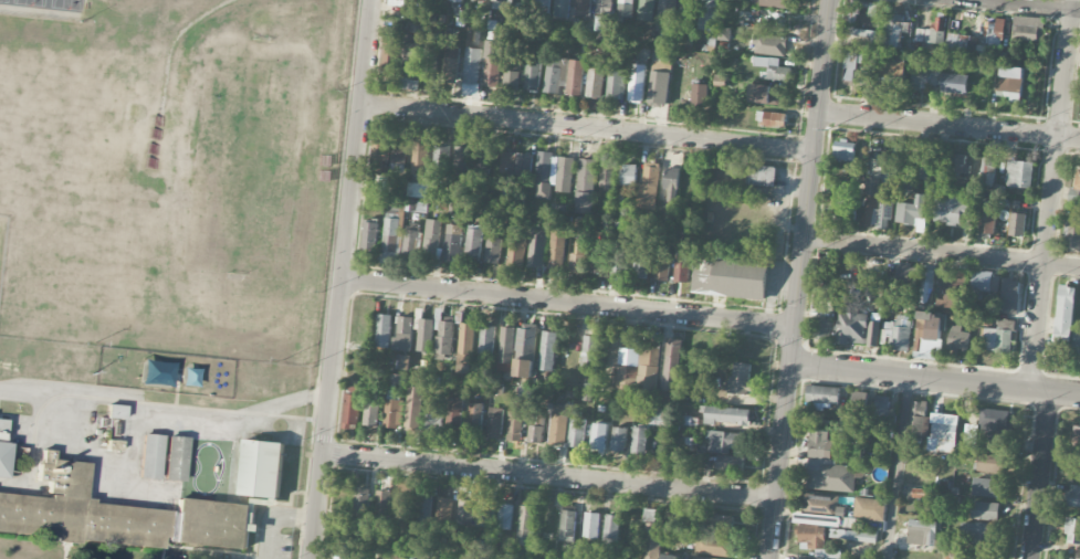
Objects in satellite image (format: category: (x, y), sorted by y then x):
building: (483, 0)
building: (776, 3)
building: (501, 4)
building: (543, 6)
building: (584, 6)
road: (1020, 6)
building: (605, 7)
building: (562, 8)
building: (686, 8)
building: (623, 10)
building: (646, 10)
building: (707, 14)
building: (667, 15)
building: (867, 19)
building: (600, 20)
building: (894, 29)
building: (1027, 29)
building: (931, 33)
building: (994, 33)
building: (769, 44)
building: (962, 44)
building: (390, 55)
building: (661, 57)
building: (430, 60)
building: (493, 63)
building: (451, 64)
building: (851, 64)
building: (410, 66)
building: (774, 68)
building: (891, 68)
building: (472, 72)
building: (511, 75)
building: (866, 75)
building: (532, 77)
building: (575, 77)
building: (553, 80)
building: (920, 80)
building: (595, 83)
building: (637, 83)
building: (954, 83)
building: (1010, 83)
building: (616, 85)
building: (659, 87)
building: (700, 94)
building: (764, 94)
building: (775, 119)
road: (950, 126)
road: (588, 128)
building: (379, 149)
building: (845, 150)
building: (398, 156)
building: (419, 157)
building: (441, 158)
building: (462, 159)
building: (482, 162)
building: (956, 162)
building: (513, 165)
building: (545, 172)
building: (940, 172)
building: (565, 173)
building: (607, 173)
building: (1019, 173)
building: (628, 175)
building: (761, 176)
building: (987, 177)
building: (671, 182)
building: (585, 186)
building: (648, 188)
building: (1076, 188)
building: (418, 190)
road: (1050, 194)
building: (842, 201)
building: (871, 202)
building: (948, 209)
building: (910, 210)
building: (884, 214)
building: (987, 219)
building: (1017, 224)
building: (369, 234)
building: (1072, 234)
building: (390, 235)
building: (431, 238)
building: (412, 239)
building: (453, 242)
building: (472, 244)
building: (556, 249)
building: (492, 250)
building: (515, 251)
road: (942, 252)
building: (619, 255)
building: (578, 257)
building: (641, 257)
building: (597, 261)
building: (661, 265)
building: (682, 268)
building: (827, 276)
building: (730, 277)
building: (926, 278)
road: (342, 279)
road: (800, 279)
building: (903, 279)
building: (981, 283)
building: (953, 294)
building: (1009, 296)
road: (569, 303)
building: (1063, 315)
building: (821, 328)
building: (852, 328)
building: (384, 330)
building: (874, 333)
building: (899, 333)
building: (929, 333)
building: (403, 335)
building: (445, 336)
building: (997, 337)
building: (466, 338)
building: (958, 338)
building: (486, 339)
building: (1076, 347)
building: (505, 350)
building: (525, 350)
building: (548, 350)
building: (589, 350)
building: (401, 361)
building: (649, 365)
building: (671, 365)
building: (627, 370)
building: (740, 378)
road: (935, 379)
building: (824, 395)
building: (352, 407)
road: (164, 409)
building: (413, 410)
building: (115, 411)
building: (394, 411)
building: (858, 411)
building: (371, 413)
building: (881, 414)
building: (730, 415)
building: (454, 416)
building: (653, 416)
building: (474, 419)
building: (433, 420)
building: (516, 421)
building: (494, 423)
building: (559, 424)
building: (995, 425)
building: (536, 426)
building: (934, 428)
building: (576, 434)
building: (598, 436)
building: (619, 439)
building: (1076, 439)
building: (639, 440)
building: (724, 441)
building: (2, 443)
building: (681, 444)
building: (17, 454)
building: (150, 455)
building: (175, 457)
building: (704, 461)
building: (730, 463)
building: (990, 463)
building: (827, 466)
road: (898, 467)
building: (261, 468)
road: (1039, 476)
road: (551, 477)
building: (987, 487)
building: (921, 493)
building: (1073, 496)
building: (820, 503)
building: (361, 505)
building: (403, 505)
building: (381, 506)
building: (869, 508)
building: (423, 509)
building: (443, 510)
building: (985, 510)
building: (465, 511)
building: (117, 514)
building: (485, 514)
building: (649, 515)
building: (505, 517)
road: (275, 519)
building: (568, 524)
building: (722, 524)
building: (591, 525)
building: (525, 526)
building: (611, 529)
building: (923, 532)
building: (978, 534)
building: (1073, 534)
building: (852, 535)
building: (811, 536)
building: (651, 541)
building: (715, 546)
building: (670, 557)
building: (704, 558)
building: (1072, 558)

